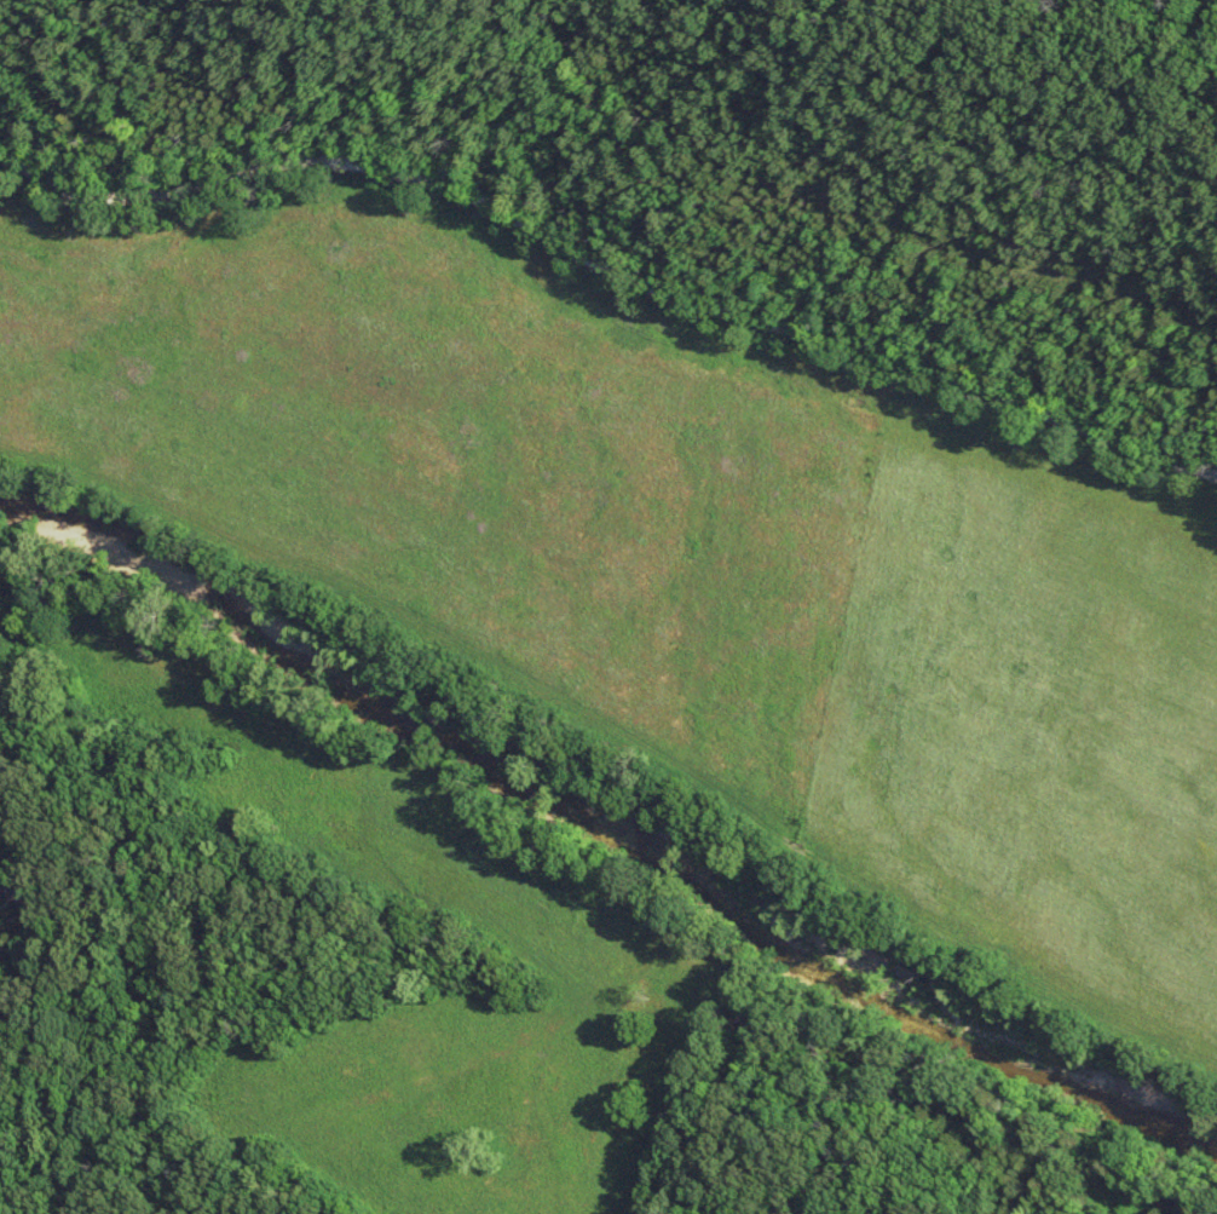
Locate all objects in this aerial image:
road: (608, 255)
river: (611, 799)

